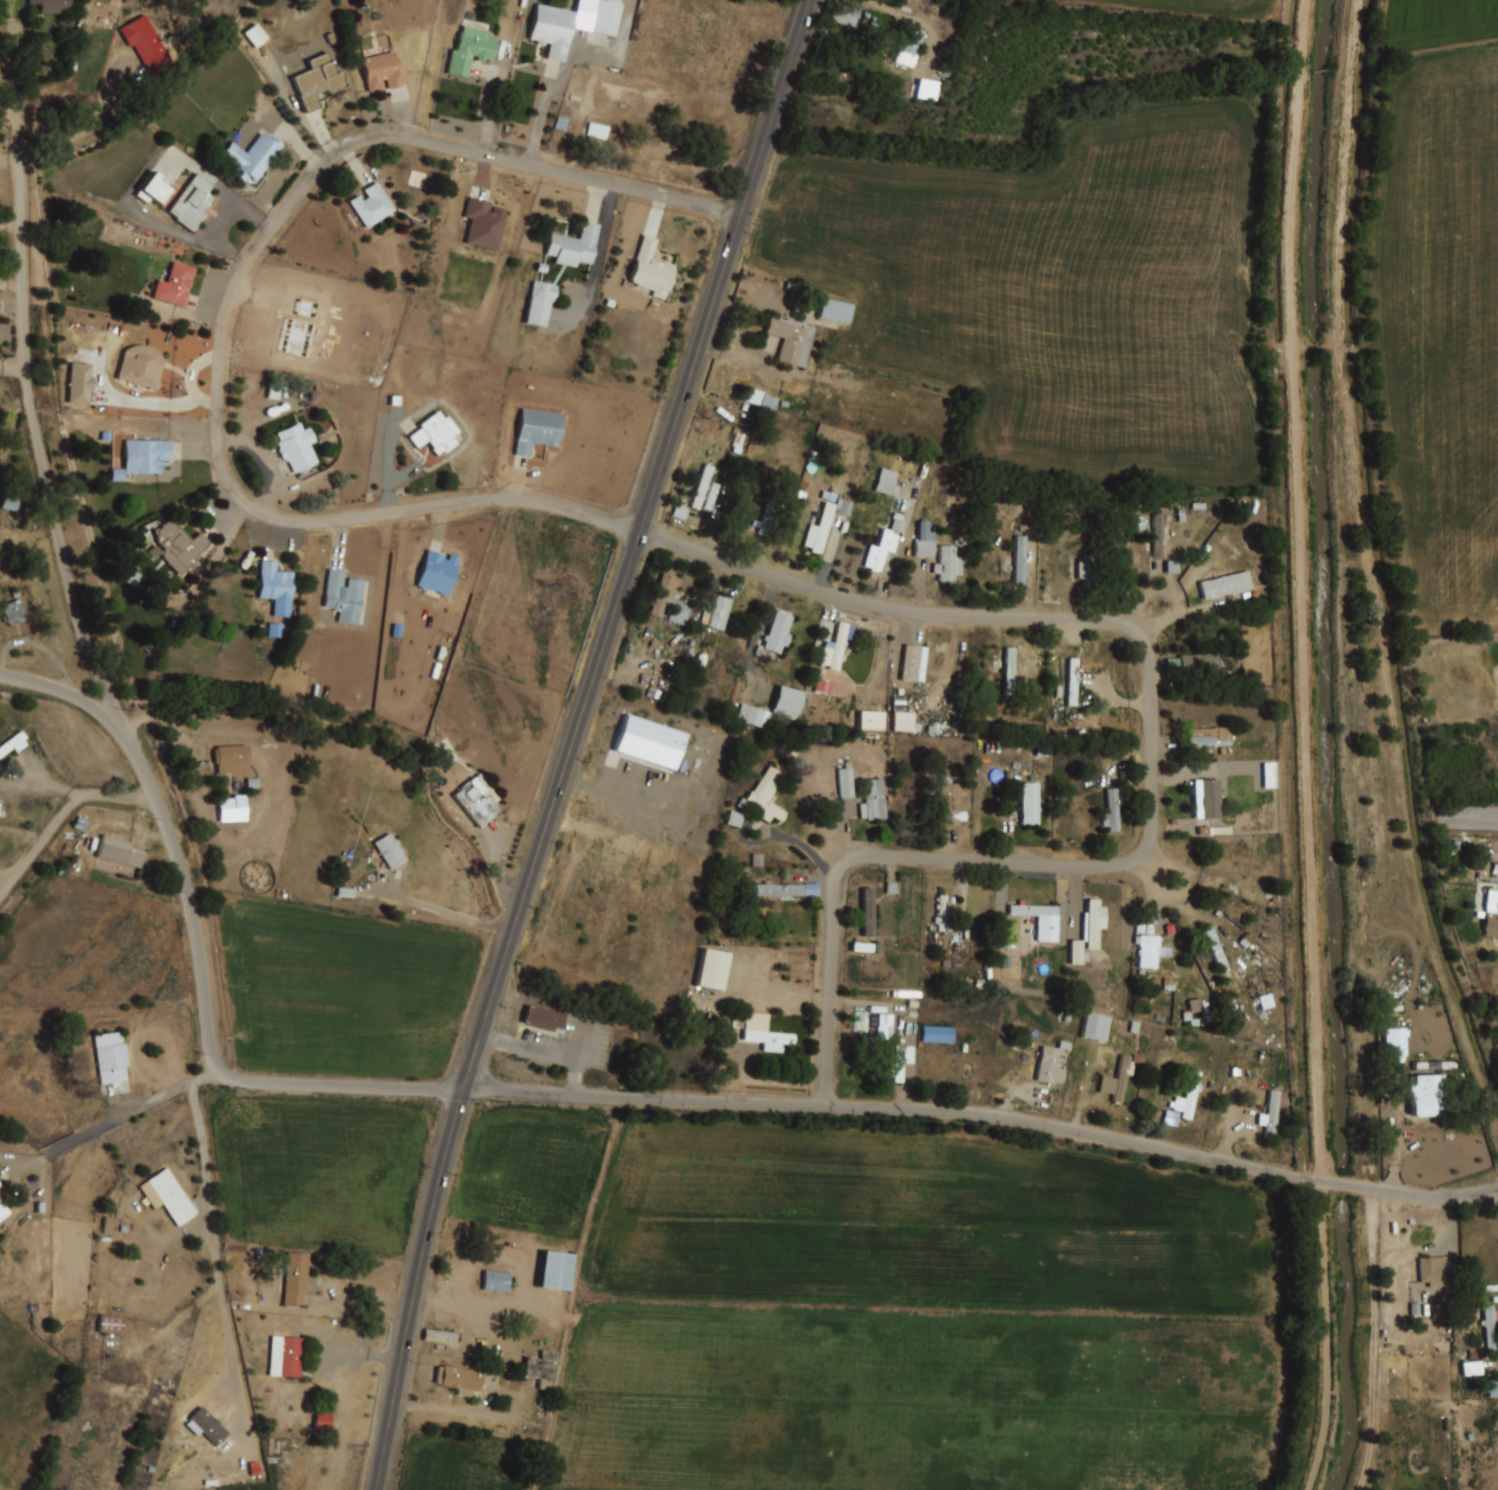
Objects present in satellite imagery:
building: (52, 6)
building: (603, 16)
building: (847, 17)
building: (553, 31)
building: (147, 46)
building: (910, 47)
building: (472, 51)
building: (384, 73)
road: (15, 82)
building: (317, 83)
road: (9, 113)
building: (595, 130)
building: (558, 143)
building: (253, 158)
building: (641, 160)
building: (153, 189)
building: (193, 204)
building: (373, 206)
building: (484, 225)
building: (574, 246)
building: (652, 269)
building: (174, 284)
building: (538, 303)
road: (224, 309)
building: (833, 310)
building: (791, 339)
building: (141, 365)
building: (79, 383)
road: (37, 428)
building: (537, 429)
building: (436, 433)
building: (297, 445)
building: (146, 456)
building: (885, 481)
building: (703, 486)
building: (713, 497)
building: (991, 512)
building: (768, 515)
building: (820, 530)
building: (1158, 533)
building: (925, 540)
building: (177, 546)
building: (880, 551)
building: (1021, 558)
building: (949, 564)
building: (1093, 570)
building: (438, 572)
building: (1227, 585)
building: (276, 587)
building: (665, 594)
building: (345, 597)
building: (13, 611)
building: (716, 613)
building: (274, 630)
building: (779, 633)
building: (838, 644)
building: (1198, 662)
building: (915, 663)
building: (991, 670)
building: (1074, 682)
road: (70, 692)
building: (785, 703)
building: (752, 716)
building: (869, 720)
building: (1211, 737)
road: (574, 739)
building: (651, 743)
building: (14, 744)
building: (231, 757)
road: (1152, 760)
building: (1268, 775)
building: (846, 780)
building: (764, 794)
building: (478, 799)
building: (1208, 799)
building: (874, 801)
building: (1031, 802)
building: (951, 804)
building: (231, 808)
building: (1113, 811)
road: (63, 814)
building: (734, 819)
building: (120, 851)
building: (390, 851)
building: (782, 890)
building: (1236, 898)
building: (947, 913)
building: (869, 915)
building: (1040, 919)
building: (1094, 922)
building: (1491, 924)
building: (1217, 949)
building: (1151, 951)
building: (1075, 952)
building: (710, 970)
building: (1265, 1002)
road: (206, 1015)
building: (544, 1019)
building: (859, 1022)
building: (884, 1025)
building: (1095, 1027)
building: (764, 1033)
building: (936, 1034)
building: (1394, 1043)
road: (543, 1052)
building: (111, 1058)
building: (900, 1061)
building: (1433, 1066)
building: (1049, 1067)
road: (195, 1079)
building: (1119, 1082)
building: (1427, 1095)
building: (1189, 1099)
building: (1271, 1114)
road: (985, 1115)
road: (122, 1117)
building: (0, 1185)
building: (0, 1187)
road: (1497, 1188)
building: (1, 1196)
building: (168, 1196)
building: (3, 1212)
road: (214, 1223)
building: (552, 1270)
building: (1436, 1271)
building: (295, 1280)
building: (494, 1281)
building: (109, 1326)
building: (1491, 1327)
road: (230, 1329)
building: (437, 1336)
building: (289, 1356)
building: (542, 1368)
building: (460, 1380)
building: (1490, 1387)
building: (321, 1421)
building: (208, 1426)
building: (248, 1470)

